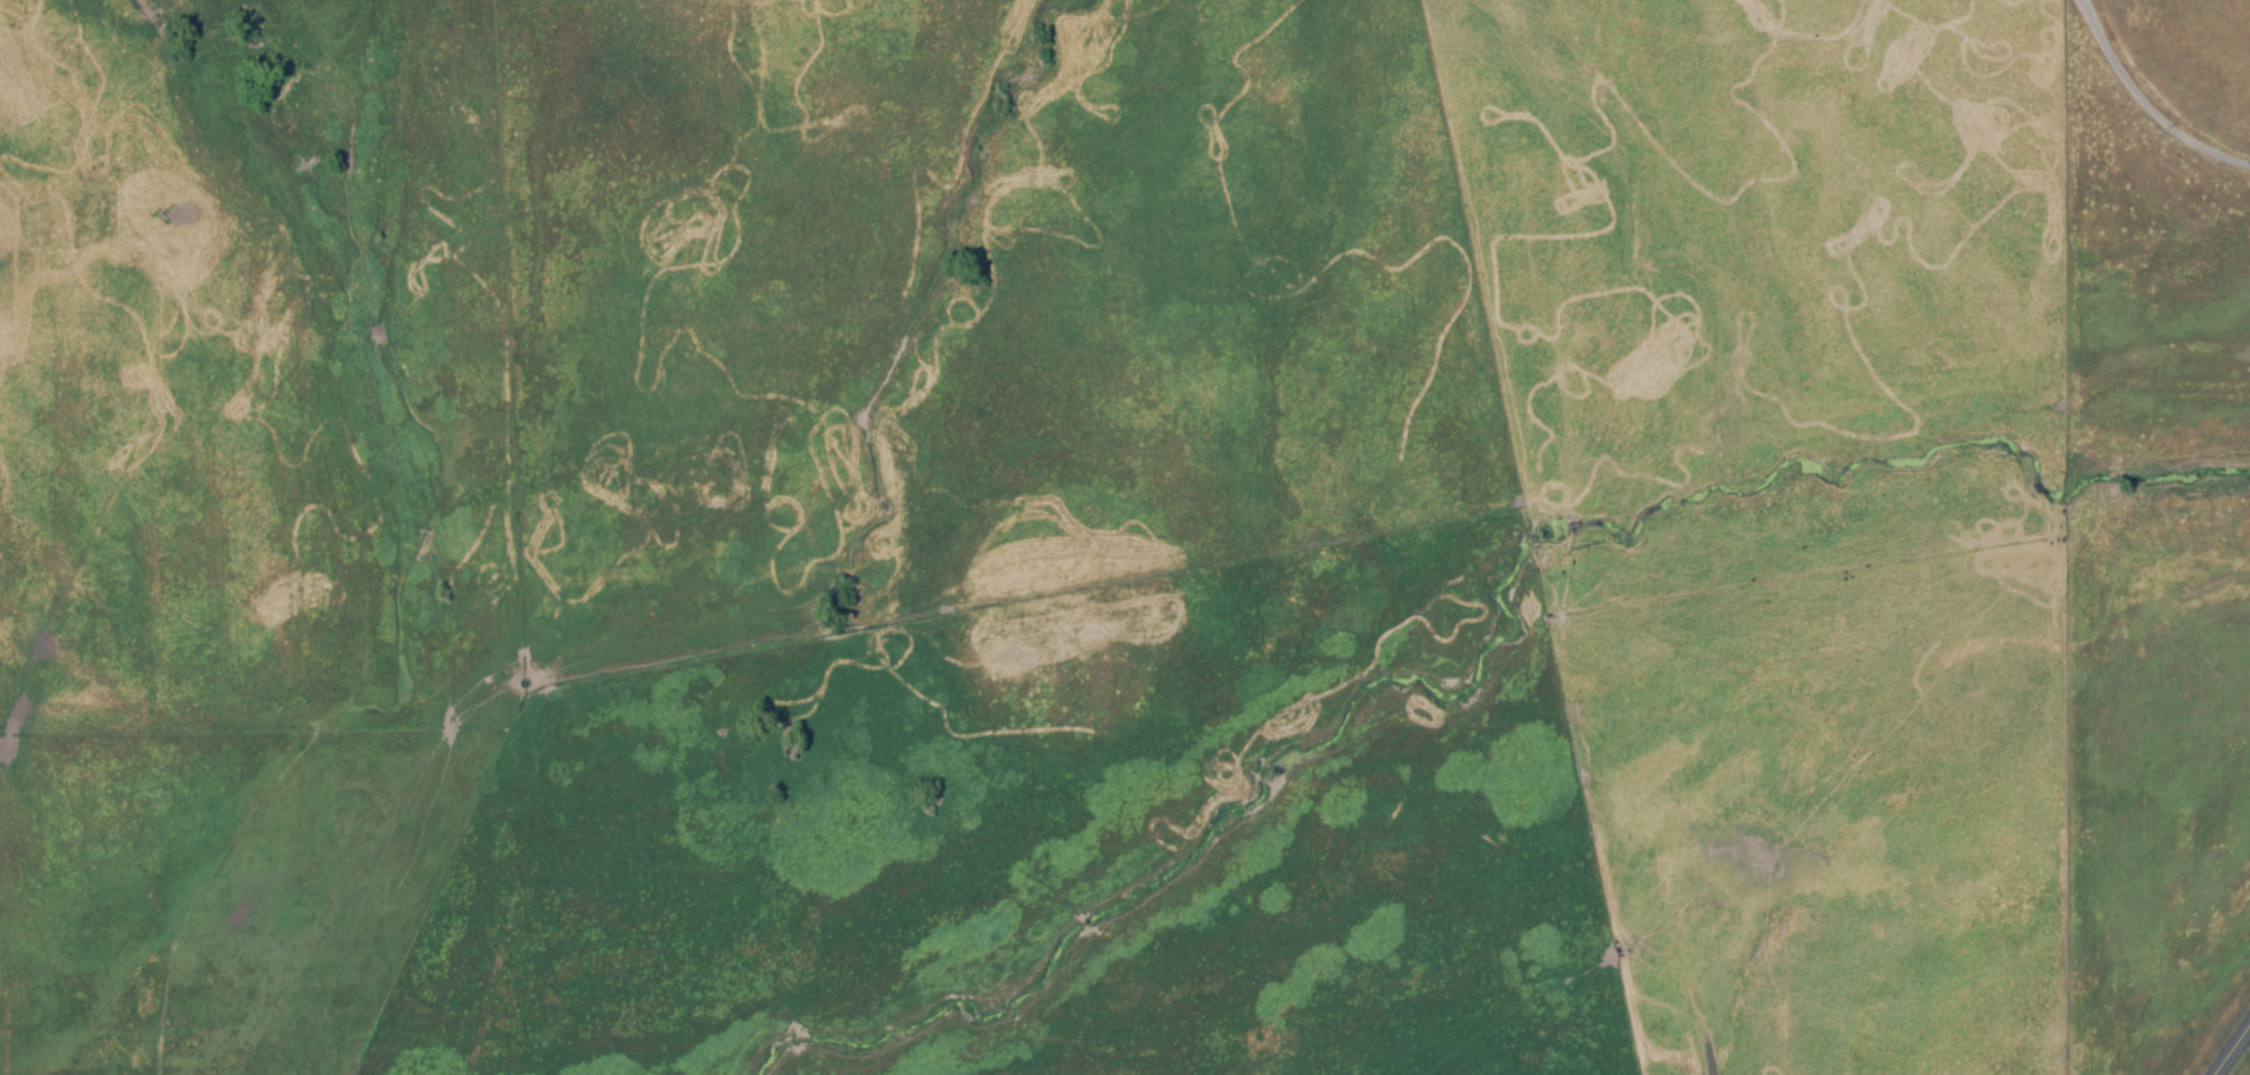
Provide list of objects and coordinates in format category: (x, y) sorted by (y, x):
road: (2164, 98)
road: (2234, 1055)

